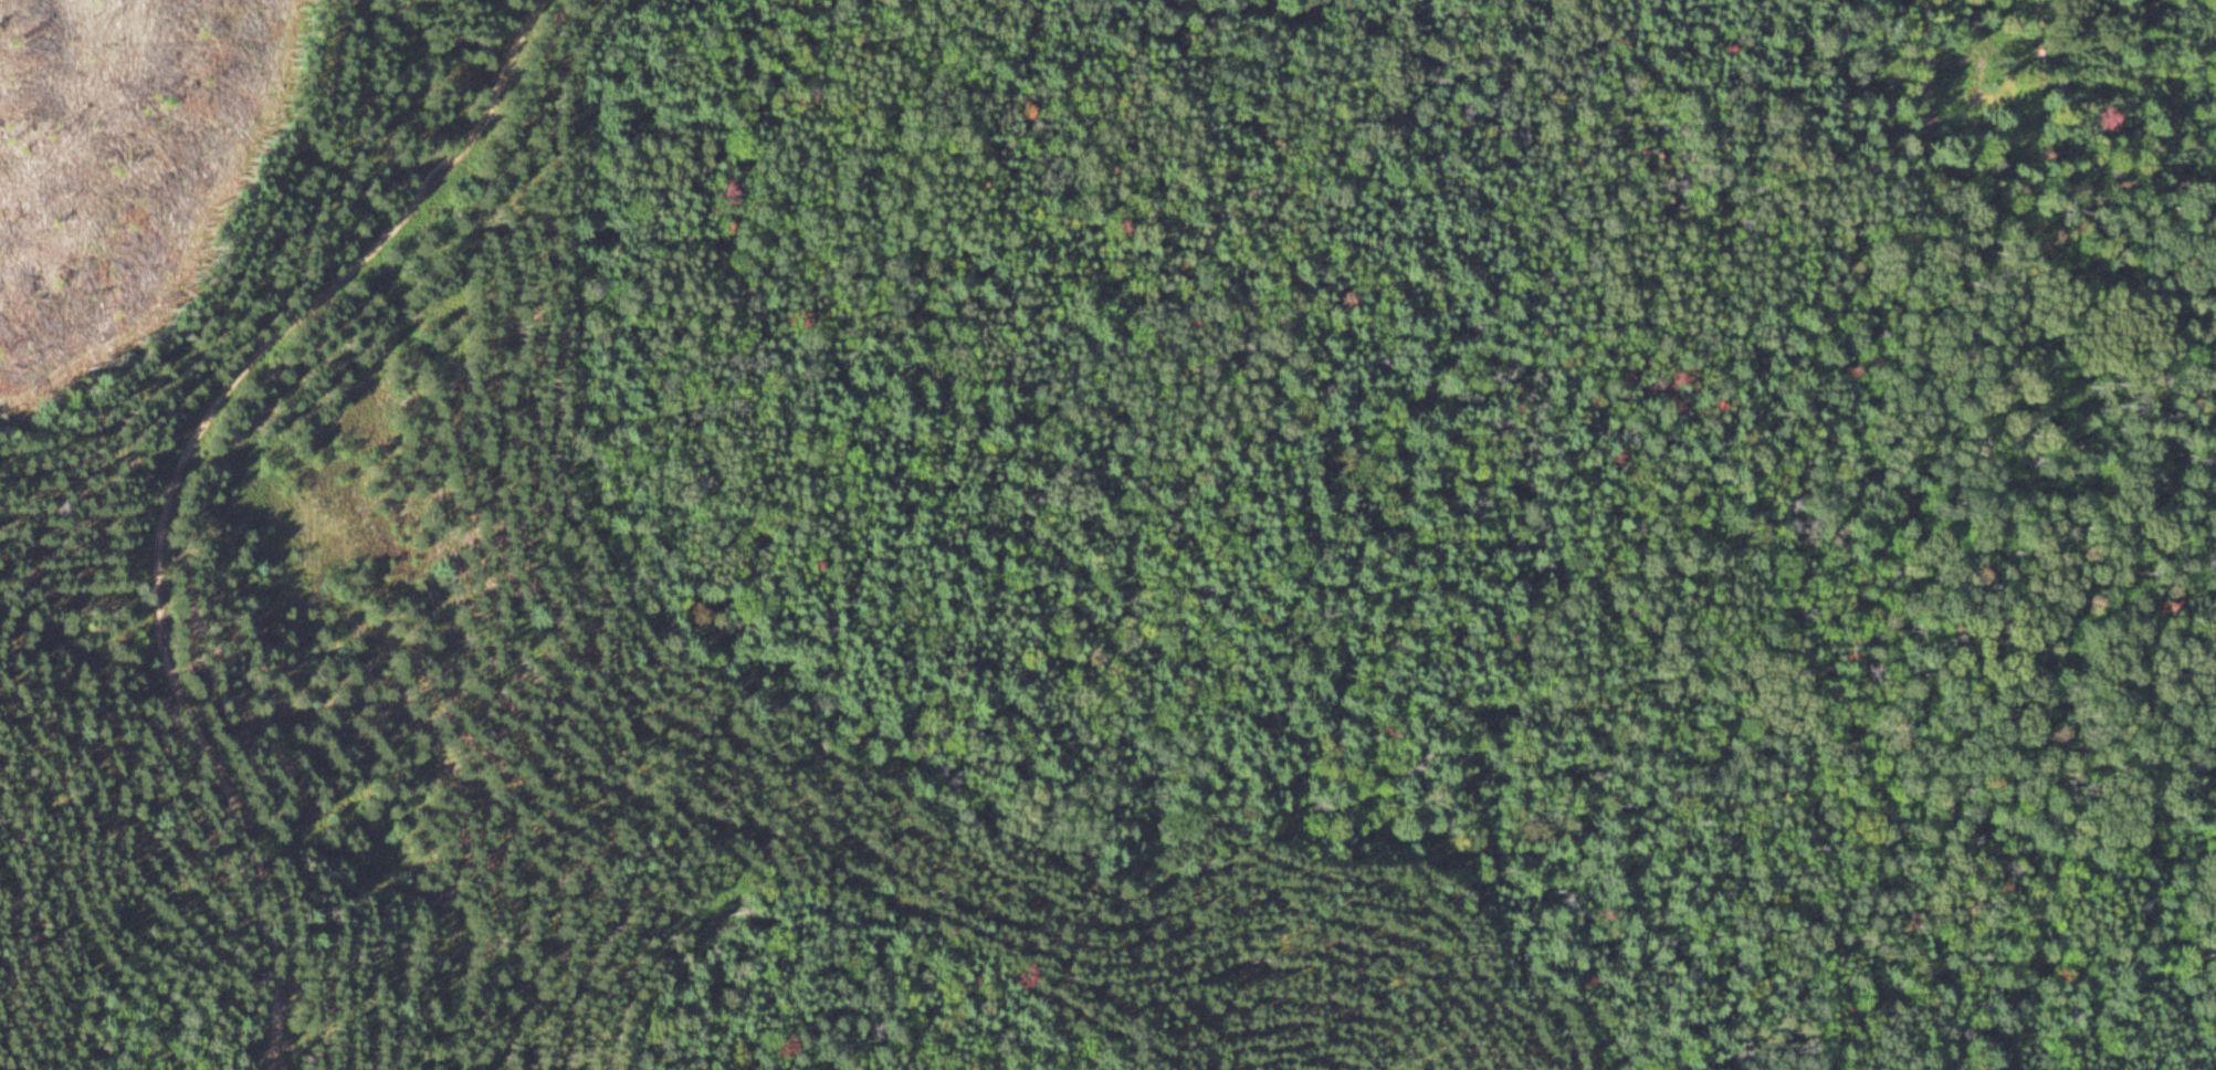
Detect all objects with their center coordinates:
road: (1251, 8)
road: (1934, 97)
road: (1908, 156)
road: (169, 478)
road: (270, 1062)

